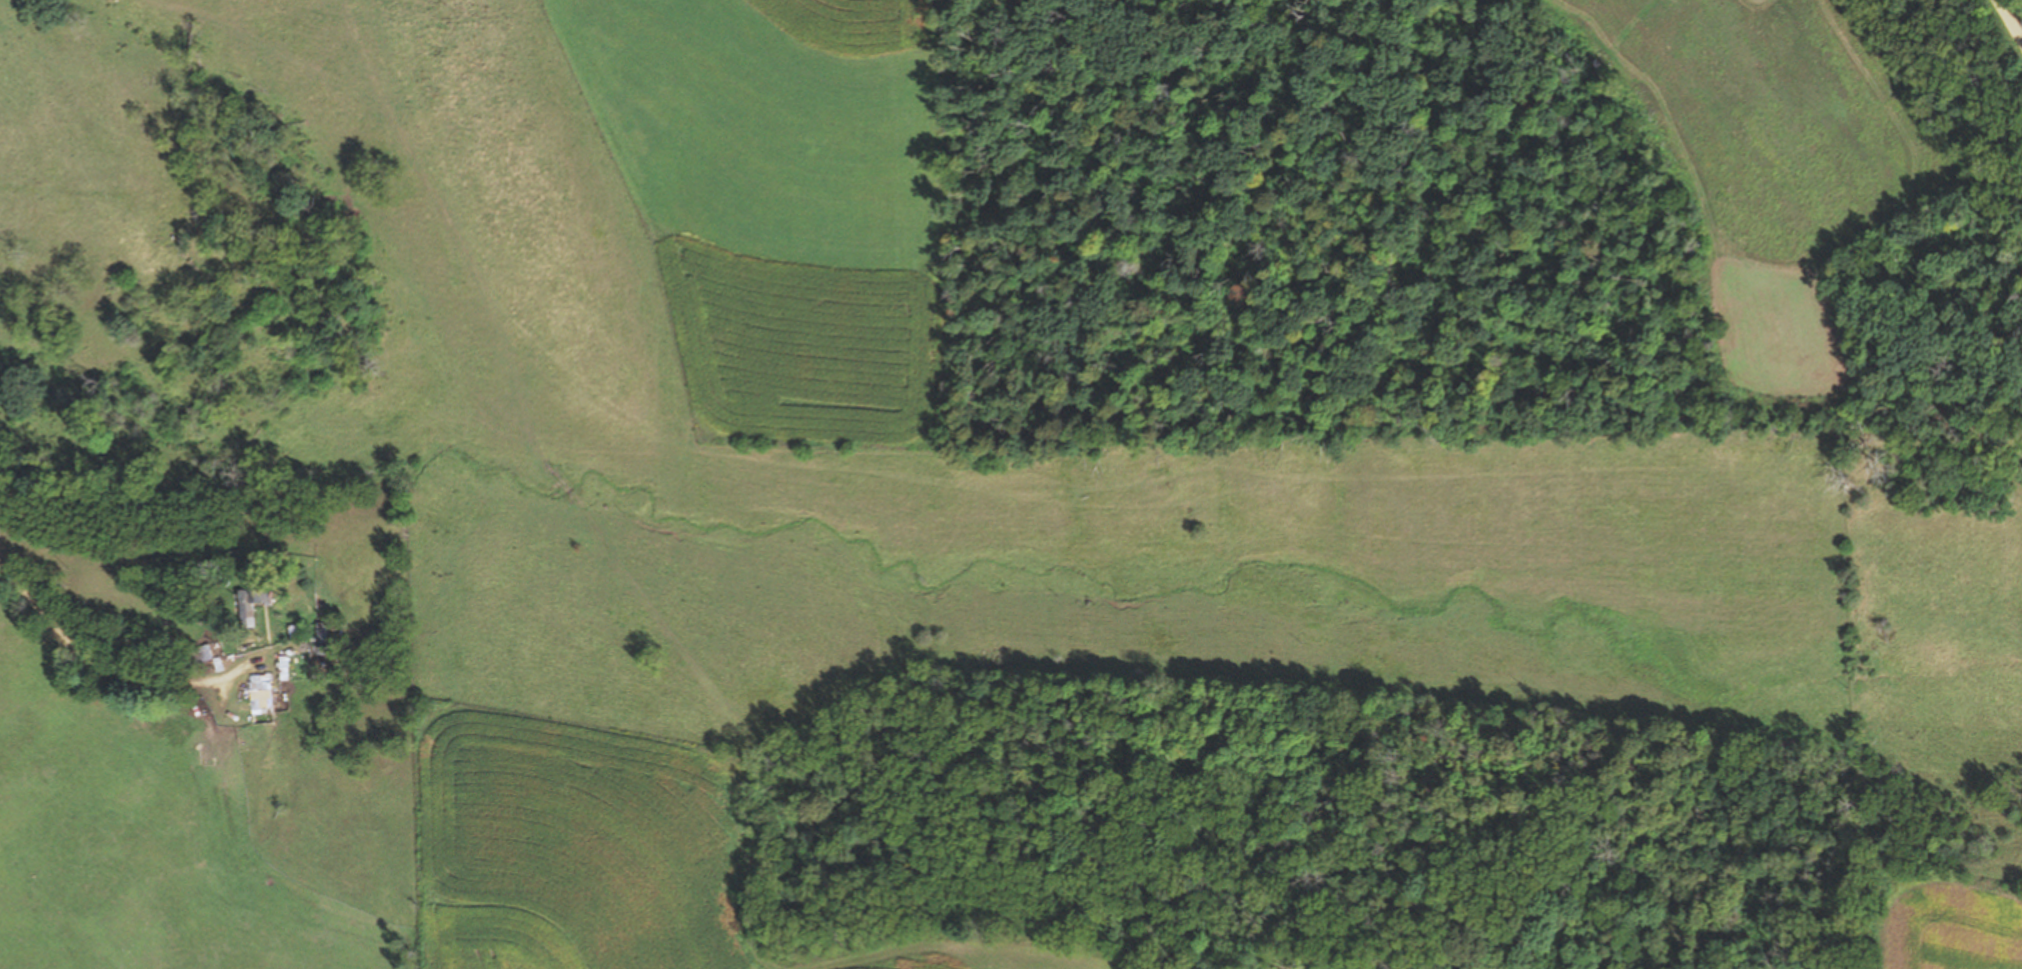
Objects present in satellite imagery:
road: (2009, 20)
building: (256, 597)
building: (204, 654)
road: (103, 668)
building: (261, 693)

